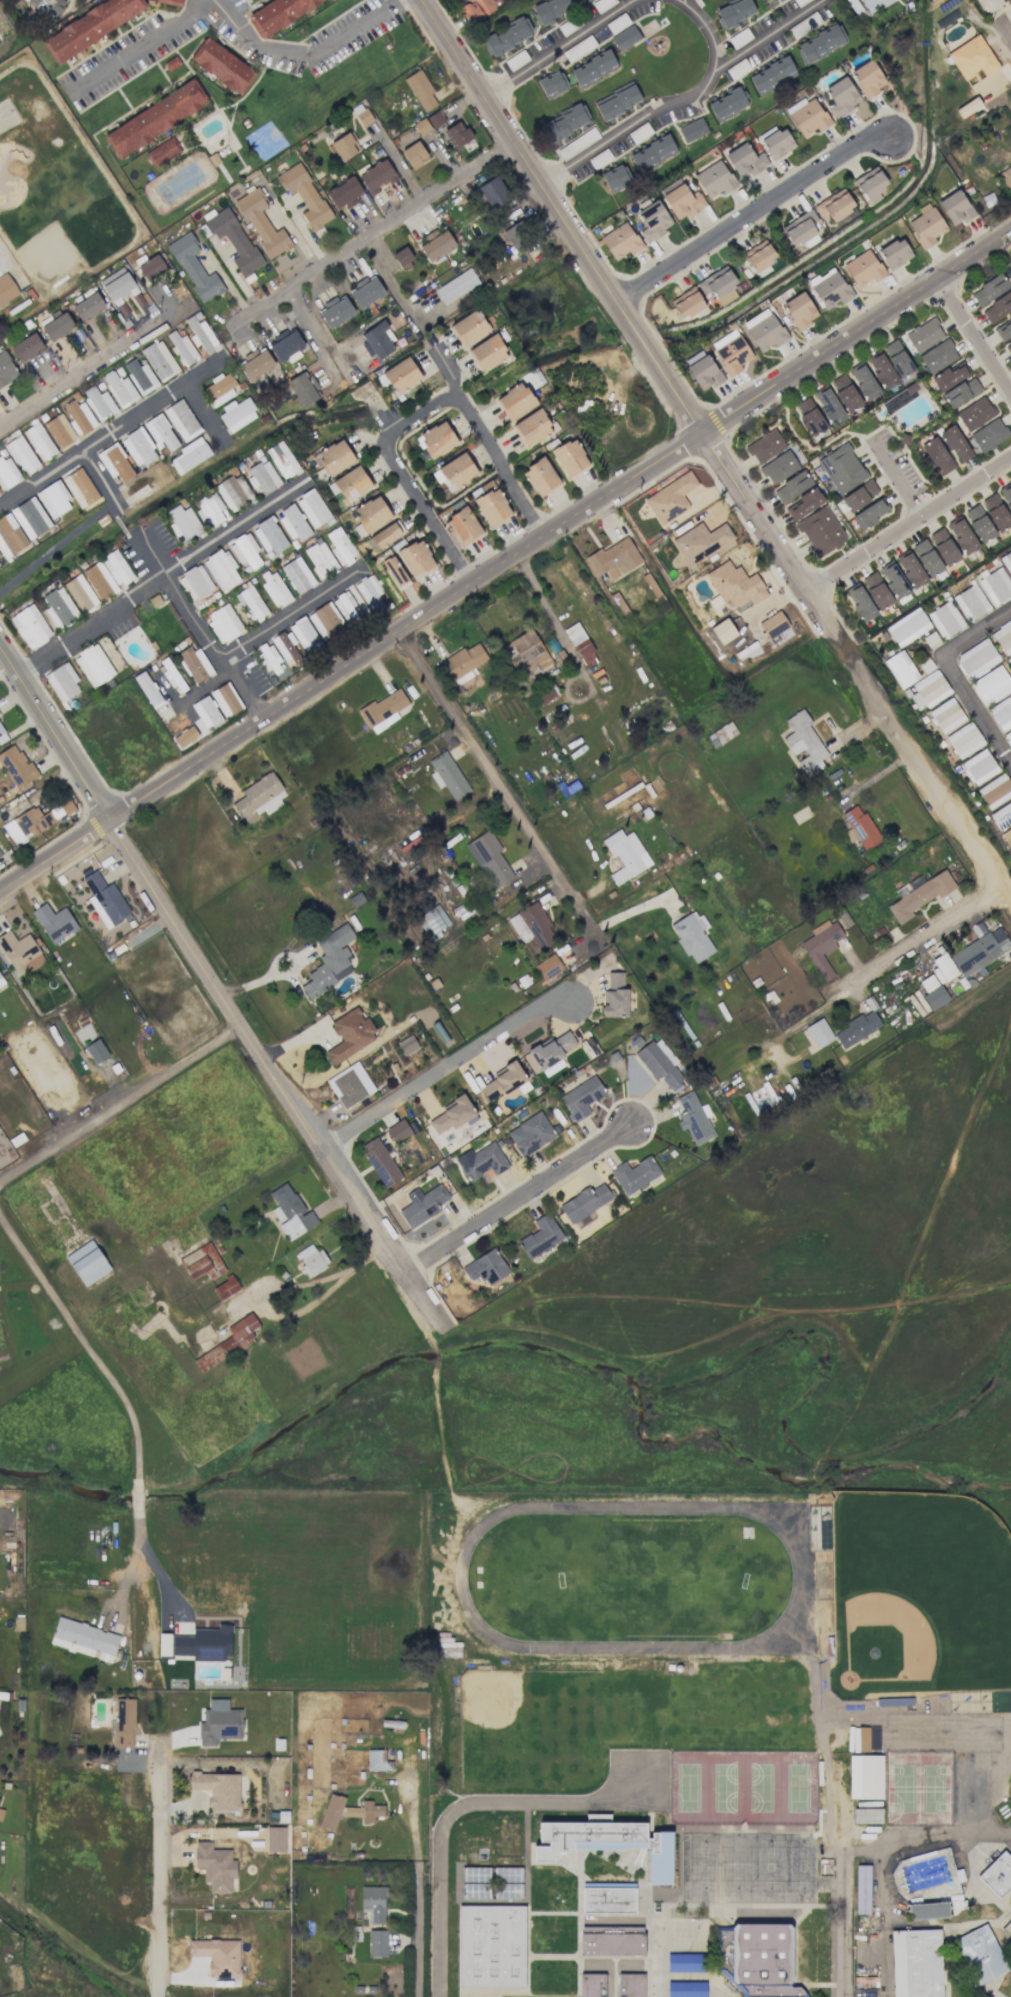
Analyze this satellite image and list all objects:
building: (765, 0)
building: (1002, 0)
building: (170, 2)
road: (682, 2)
building: (874, 4)
building: (46, 7)
building: (478, 9)
building: (549, 10)
building: (278, 13)
building: (734, 13)
building: (90, 27)
road: (710, 32)
building: (625, 37)
building: (820, 43)
road: (142, 46)
road: (561, 49)
road: (1002, 49)
road: (306, 55)
building: (972, 58)
parking lot: (293, 62)
building: (222, 66)
building: (593, 69)
building: (772, 75)
building: (867, 78)
building: (551, 84)
building: (420, 89)
building: (841, 96)
building: (617, 101)
building: (727, 104)
road: (693, 105)
building: (968, 107)
building: (363, 115)
building: (807, 116)
building: (155, 118)
building: (435, 119)
building: (564, 122)
building: (421, 126)
building: (692, 130)
building: (457, 134)
building: (777, 143)
building: (341, 147)
building: (162, 152)
building: (652, 153)
building: (414, 154)
building: (745, 160)
building: (375, 175)
building: (614, 178)
building: (714, 179)
building: (870, 184)
building: (344, 193)
building: (493, 193)
building: (305, 194)
building: (682, 201)
building: (834, 205)
building: (955, 207)
road: (751, 213)
building: (653, 221)
building: (262, 224)
building: (926, 225)
building: (801, 229)
road: (1010, 230)
road: (371, 235)
building: (518, 237)
building: (233, 239)
building: (620, 241)
building: (436, 244)
building: (894, 253)
building: (402, 256)
building: (759, 256)
building: (151, 267)
building: (194, 267)
building: (863, 268)
road: (391, 283)
building: (718, 285)
building: (456, 286)
building: (830, 288)
building: (989, 289)
building: (7, 290)
building: (365, 291)
building: (687, 304)
building: (87, 306)
building: (997, 307)
building: (799, 310)
building: (336, 311)
road: (306, 318)
building: (57, 326)
building: (469, 327)
building: (1003, 329)
building: (764, 330)
building: (201, 335)
building: (923, 335)
road: (971, 336)
building: (377, 340)
building: (286, 343)
building: (26, 346)
building: (181, 347)
building: (1008, 347)
building: (488, 352)
building: (730, 352)
building: (937, 355)
building: (897, 358)
building: (159, 360)
building: (255, 363)
road: (445, 367)
building: (6, 369)
building: (702, 370)
building: (881, 370)
road: (77, 372)
building: (402, 375)
building: (949, 375)
building: (140, 376)
building: (863, 380)
building: (219, 388)
building: (909, 388)
building: (119, 389)
building: (302, 389)
building: (845, 392)
building: (961, 392)
building: (515, 400)
building: (99, 403)
building: (828, 405)
road: (415, 412)
building: (975, 413)
building: (237, 414)
building: (810, 416)
building: (79, 417)
building: (182, 420)
building: (533, 427)
building: (59, 430)
building: (160, 432)
road: (114, 433)
building: (988, 435)
building: (436, 439)
building: (39, 442)
building: (955, 444)
building: (765, 446)
building: (138, 447)
road: (714, 454)
building: (21, 455)
building: (190, 455)
building: (937, 456)
building: (335, 457)
building: (569, 457)
building: (282, 459)
building: (115, 462)
building: (778, 466)
building: (841, 468)
building: (7, 472)
building: (455, 472)
building: (262, 476)
building: (540, 476)
road: (896, 478)
building: (350, 484)
building: (792, 486)
building: (80, 487)
building: (233, 492)
building: (1007, 493)
building: (859, 495)
building: (670, 497)
building: (53, 499)
building: (805, 503)
building: (492, 506)
building: (312, 508)
building: (209, 510)
building: (996, 512)
building: (868, 514)
building: (30, 517)
road: (906, 522)
building: (294, 523)
building: (979, 523)
building: (183, 524)
building: (463, 526)
road: (79, 527)
building: (821, 530)
building: (962, 535)
building: (10, 536)
building: (269, 536)
building: (383, 536)
building: (701, 541)
building: (340, 546)
building: (943, 546)
building: (245, 550)
building: (927, 557)
building: (319, 558)
building: (416, 558)
building: (614, 558)
building: (1007, 561)
road: (506, 563)
building: (0, 564)
building: (116, 567)
building: (221, 569)
building: (910, 569)
building: (394, 571)
building: (297, 575)
road: (163, 579)
building: (99, 580)
building: (892, 580)
building: (195, 582)
building: (735, 584)
building: (996, 586)
building: (274, 589)
building: (876, 591)
building: (80, 593)
building: (370, 594)
building: (860, 602)
building: (971, 602)
building: (251, 604)
building: (350, 607)
building: (59, 608)
road: (295, 615)
building: (945, 619)
building: (325, 621)
building: (223, 623)
building: (773, 624)
building: (30, 626)
building: (907, 626)
building: (304, 635)
building: (1003, 637)
building: (580, 645)
road: (216, 648)
building: (286, 648)
building: (528, 648)
building: (269, 657)
building: (976, 658)
building: (1009, 658)
building: (463, 661)
building: (194, 664)
building: (93, 665)
building: (900, 669)
road: (955, 672)
building: (172, 675)
building: (62, 682)
building: (991, 685)
building: (147, 688)
building: (928, 690)
building: (545, 694)
building: (226, 699)
building: (383, 710)
building: (206, 712)
building: (1002, 712)
building: (946, 715)
building: (721, 734)
building: (2, 735)
building: (184, 736)
building: (1008, 736)
building: (964, 740)
building: (804, 743)
building: (979, 766)
building: (16, 767)
building: (447, 775)
road: (495, 781)
building: (995, 791)
building: (259, 797)
building: (1002, 815)
building: (35, 820)
building: (860, 826)
building: (1007, 837)
building: (626, 855)
building: (0, 856)
building: (489, 859)
building: (919, 894)
building: (105, 900)
building: (54, 922)
building: (432, 922)
building: (532, 928)
building: (692, 936)
road: (911, 941)
building: (821, 946)
building: (979, 950)
building: (19, 952)
building: (329, 961)
building: (944, 966)
building: (548, 967)
road: (266, 978)
building: (1, 981)
road: (216, 987)
building: (932, 992)
building: (615, 995)
building: (857, 1028)
building: (819, 1032)
building: (350, 1034)
building: (407, 1045)
building: (96, 1051)
building: (660, 1063)
road: (442, 1065)
building: (503, 1080)
building: (350, 1085)
building: (581, 1098)
road: (121, 1107)
building: (451, 1115)
building: (693, 1118)
building: (398, 1130)
building: (530, 1134)
building: (380, 1161)
building: (481, 1161)
building: (634, 1174)
road: (519, 1202)
building: (584, 1202)
building: (422, 1205)
building: (290, 1212)
building: (540, 1236)
building: (311, 1259)
building: (87, 1262)
building: (201, 1262)
building: (485, 1267)
road: (301, 1283)
building: (225, 1287)
road: (85, 1340)
building: (228, 1342)
road: (437, 1408)
road: (139, 1497)
road: (138, 1536)
road: (162, 1581)
park: (917, 1593)
building: (84, 1639)
building: (204, 1643)
building: (447, 1646)
road: (958, 1719)
building: (219, 1723)
building: (123, 1724)
building: (860, 1739)
building: (377, 1760)
building: (864, 1776)
building: (218, 1789)
building: (348, 1810)
building: (0, 1813)
building: (867, 1815)
building: (597, 1817)
building: (275, 1839)
building: (608, 1843)
building: (215, 1866)
building: (513, 1874)
building: (997, 1874)
building: (476, 1875)
road: (849, 1877)
road: (163, 1880)
building: (861, 1889)
building: (608, 1900)
building: (374, 1902)
building: (927, 1910)
road: (422, 1932)
building: (1008, 1932)
building: (377, 1943)
building: (611, 1944)
building: (490, 1945)
road: (848, 1950)
building: (217, 1956)
building: (757, 1959)
building: (981, 1959)
building: (685, 1963)
road: (879, 1963)
building: (916, 1963)
building: (591, 1985)
building: (630, 1985)
building: (686, 1989)

